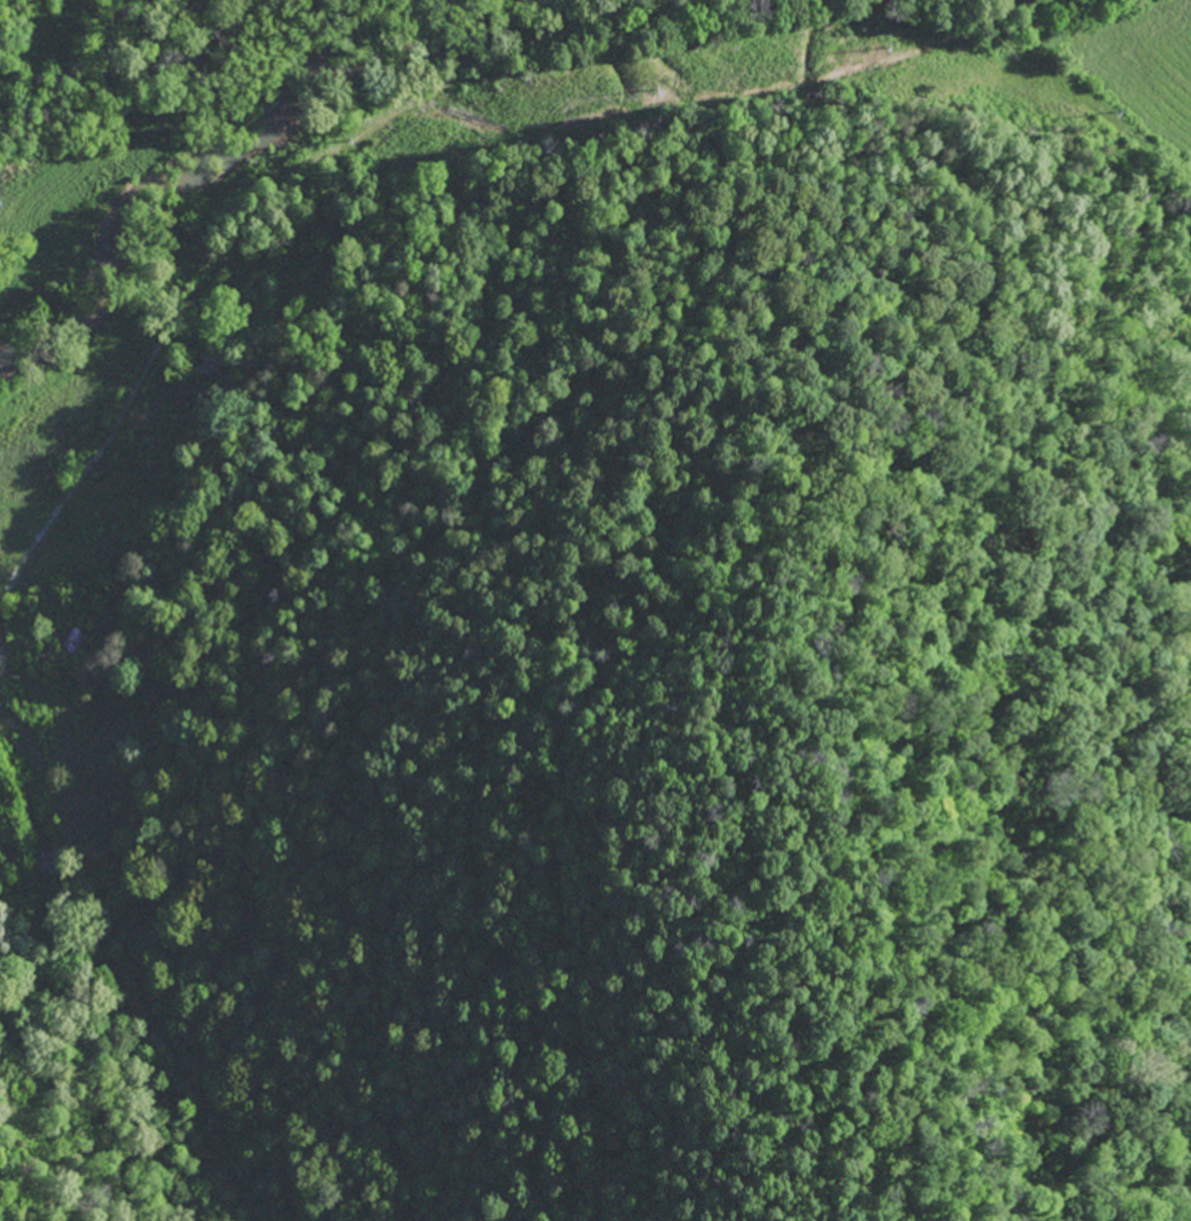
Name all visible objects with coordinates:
road: (533, 93)

